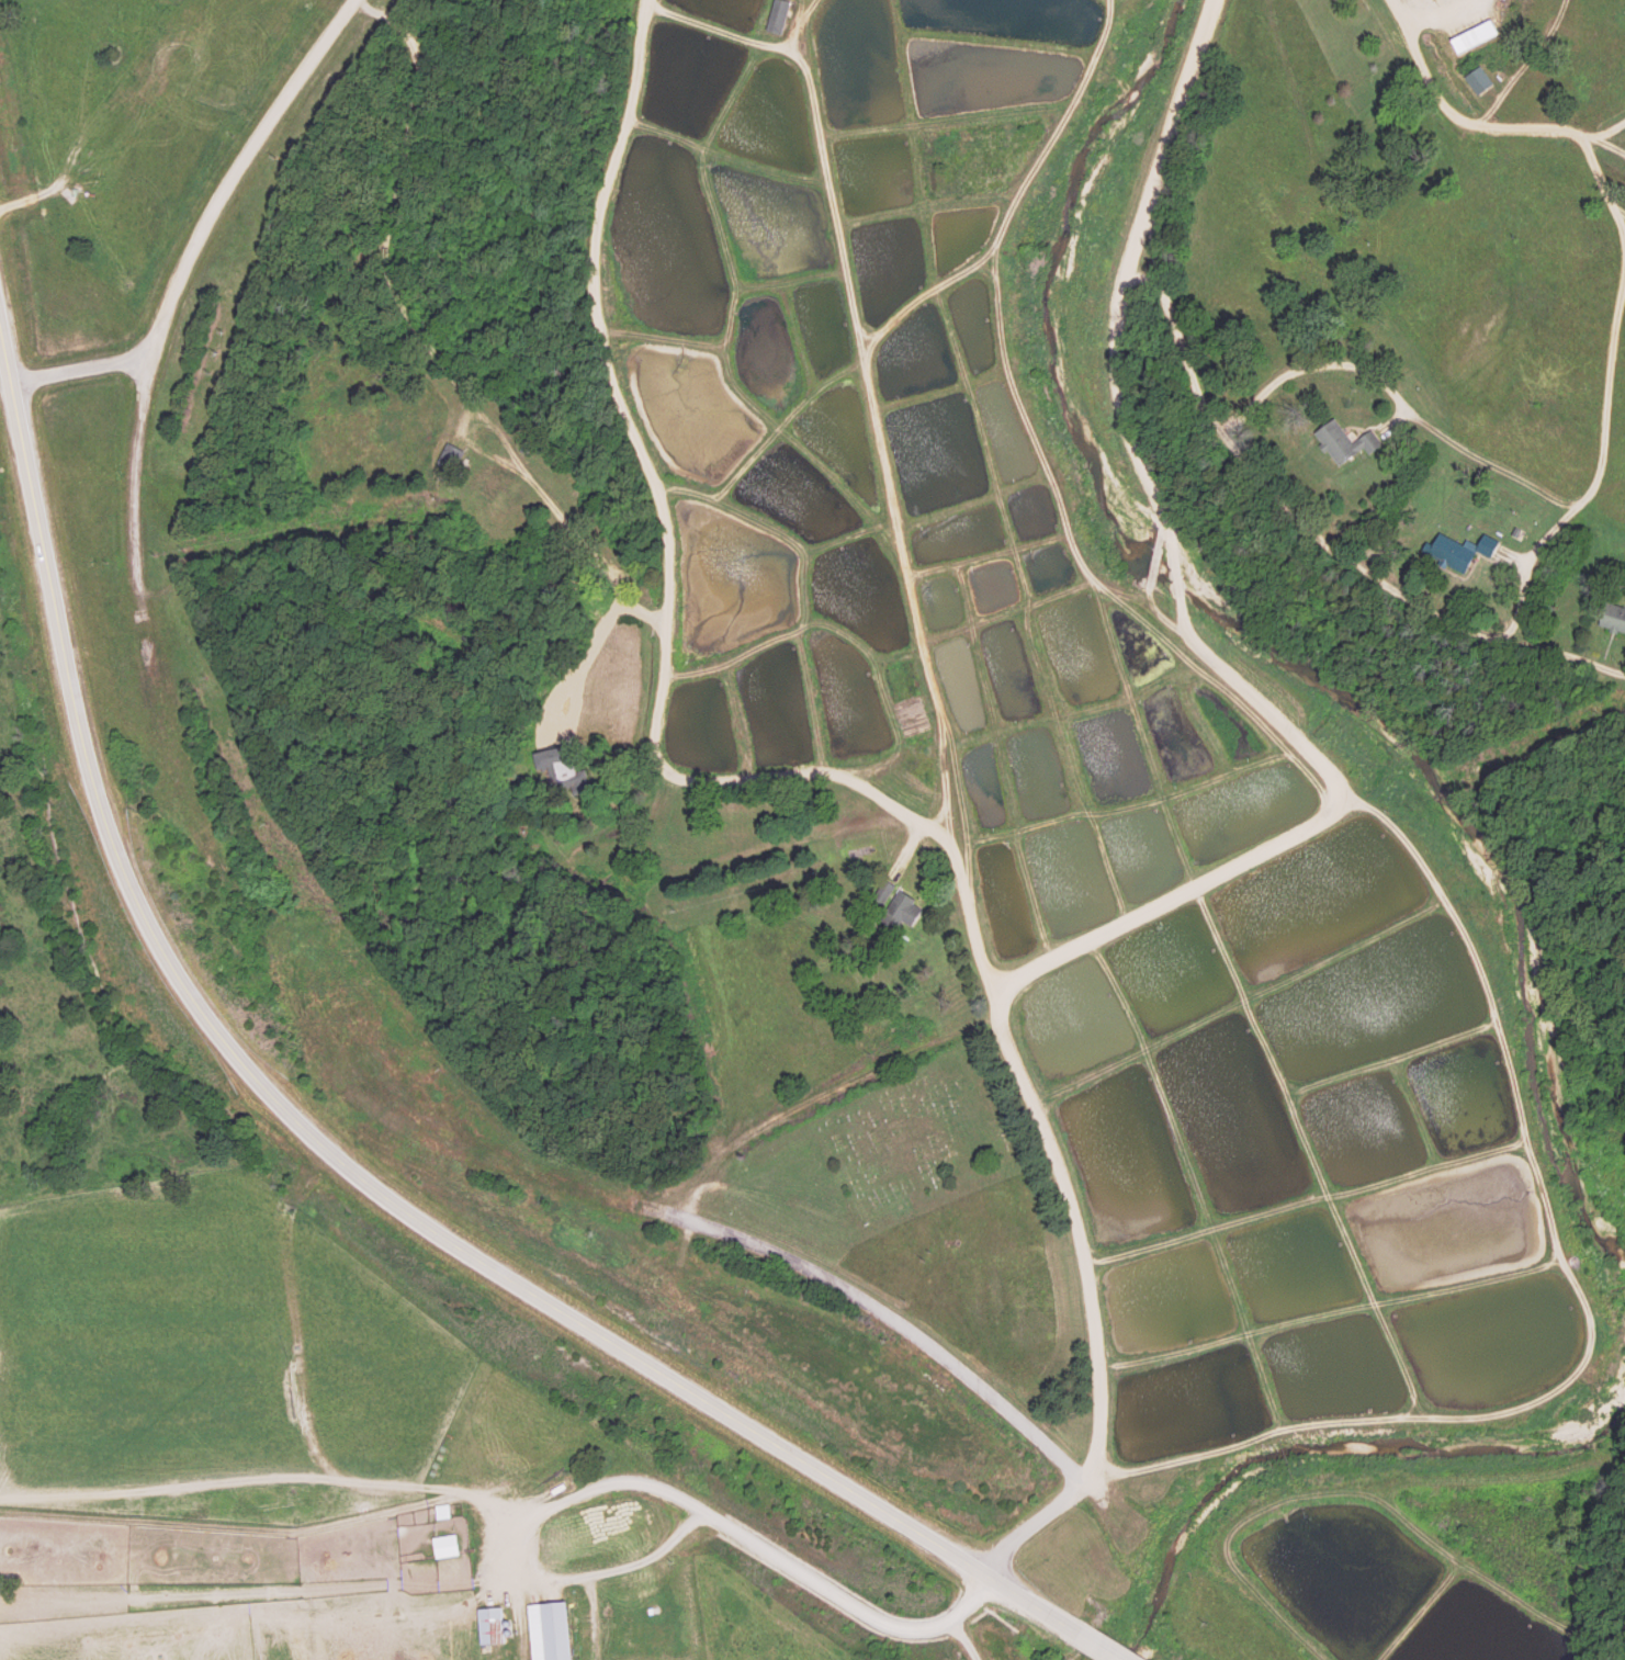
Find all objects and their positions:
road: (1435, 16)
building: (778, 18)
building: (1475, 38)
road: (1525, 67)
building: (1479, 82)
road: (1509, 131)
road: (1578, 135)
road: (198, 238)
road: (1402, 406)
building: (1345, 444)
building: (451, 459)
road: (1598, 482)
road: (129, 483)
road: (664, 526)
road: (1333, 547)
building: (1460, 552)
building: (1614, 619)
road: (927, 699)
road: (1314, 760)
building: (557, 769)
building: (884, 893)
building: (901, 913)
road: (1238, 1006)
park: (910, 1142)
road: (360, 1178)
road: (1307, 1206)
road: (1583, 1305)
road: (881, 1318)
road: (1333, 1320)
road: (1029, 1525)
building: (447, 1548)
building: (489, 1627)
building: (550, 1633)

